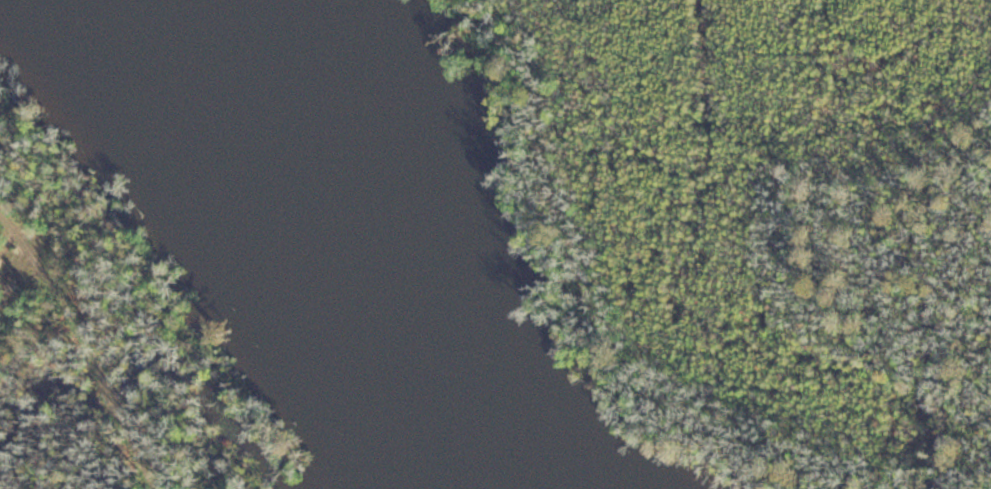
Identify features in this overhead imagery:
river: (337, 251)

